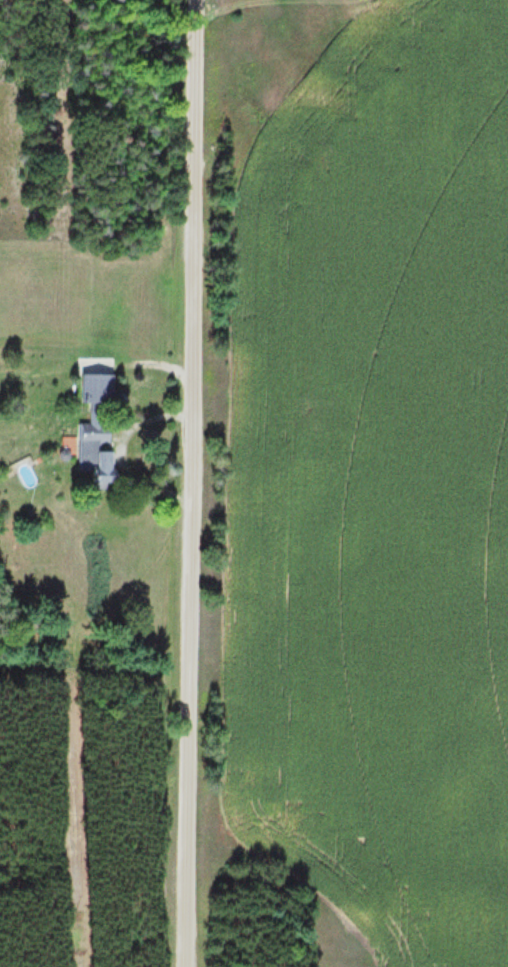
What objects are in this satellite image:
building: (95, 384)
building: (96, 451)
road: (188, 483)

